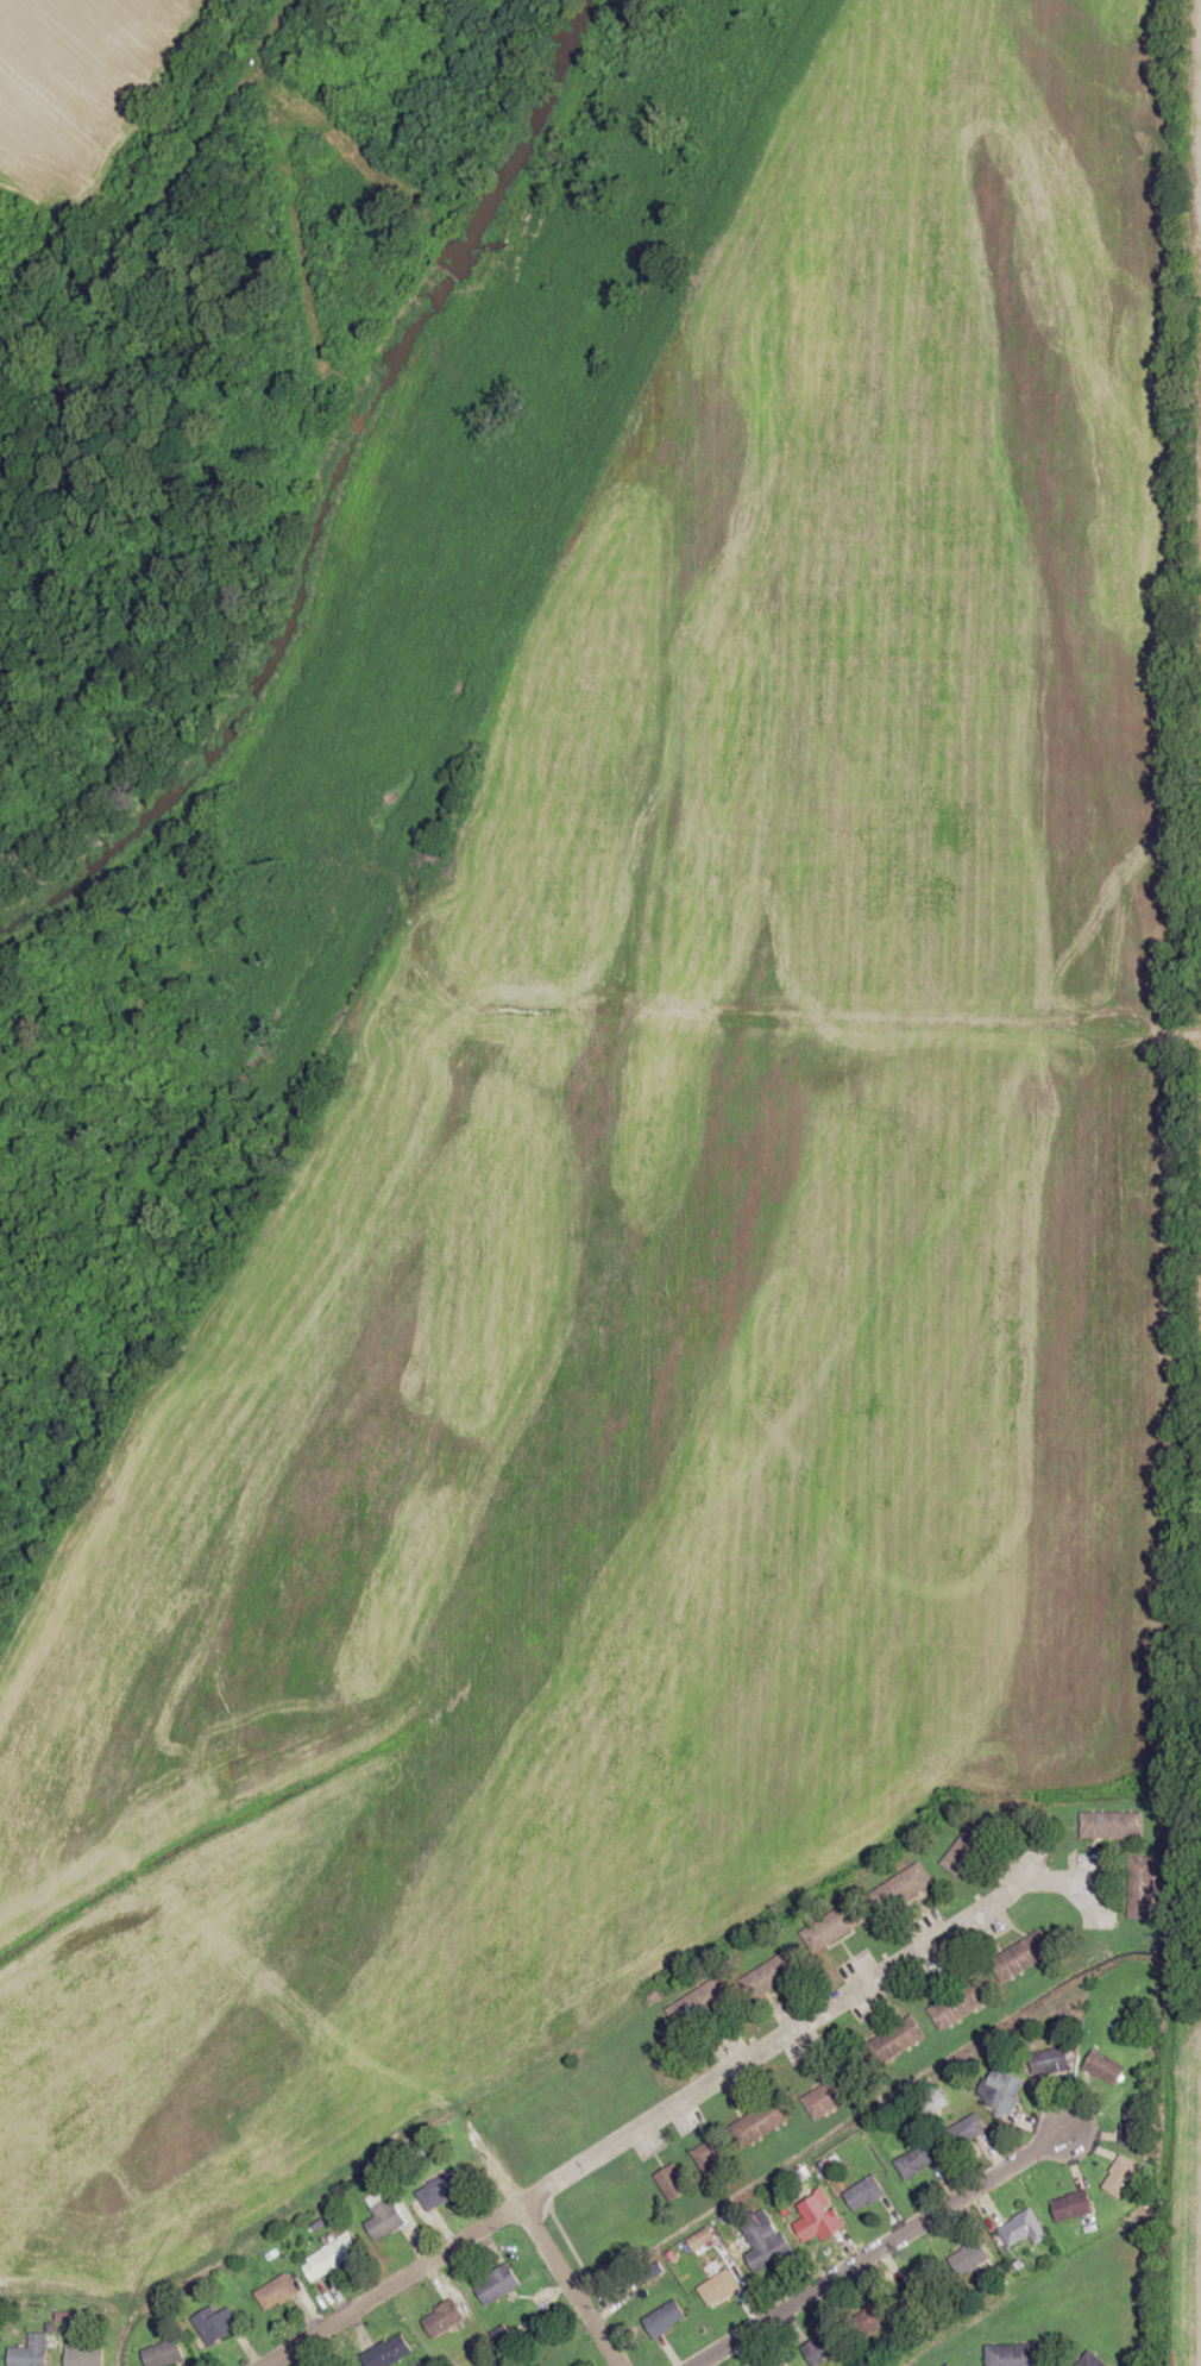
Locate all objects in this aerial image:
road: (1165, 1003)
building: (1109, 1826)
building: (968, 1847)
building: (901, 1888)
building: (1140, 1888)
building: (835, 1925)
building: (1021, 1956)
building: (775, 1973)
building: (715, 1994)
building: (958, 2003)
building: (898, 2038)
building: (1051, 2061)
building: (1103, 2067)
building: (1000, 2089)
building: (834, 2091)
building: (936, 2100)
road: (673, 2101)
building: (761, 2121)
building: (1132, 2123)
building: (968, 2128)
building: (710, 2154)
building: (914, 2160)
building: (1120, 2177)
building: (673, 2182)
building: (438, 2190)
building: (864, 2192)
building: (1071, 2205)
building: (383, 2214)
road: (524, 2215)
building: (818, 2223)
building: (1020, 2229)
building: (763, 2239)
road: (874, 2246)
building: (329, 2257)
building: (970, 2258)
building: (496, 2284)
building: (717, 2287)
building: (275, 2292)
road: (576, 2298)
building: (874, 2316)
building: (441, 2318)
building: (665, 2318)
building: (214, 2323)
building: (822, 2348)
building: (30, 2352)
building: (386, 2352)
building: (162, 2353)
building: (1018, 2354)
building: (83, 2356)
building: (1089, 2360)
building: (782, 2364)
building: (348, 2365)
building: (948, 2365)

